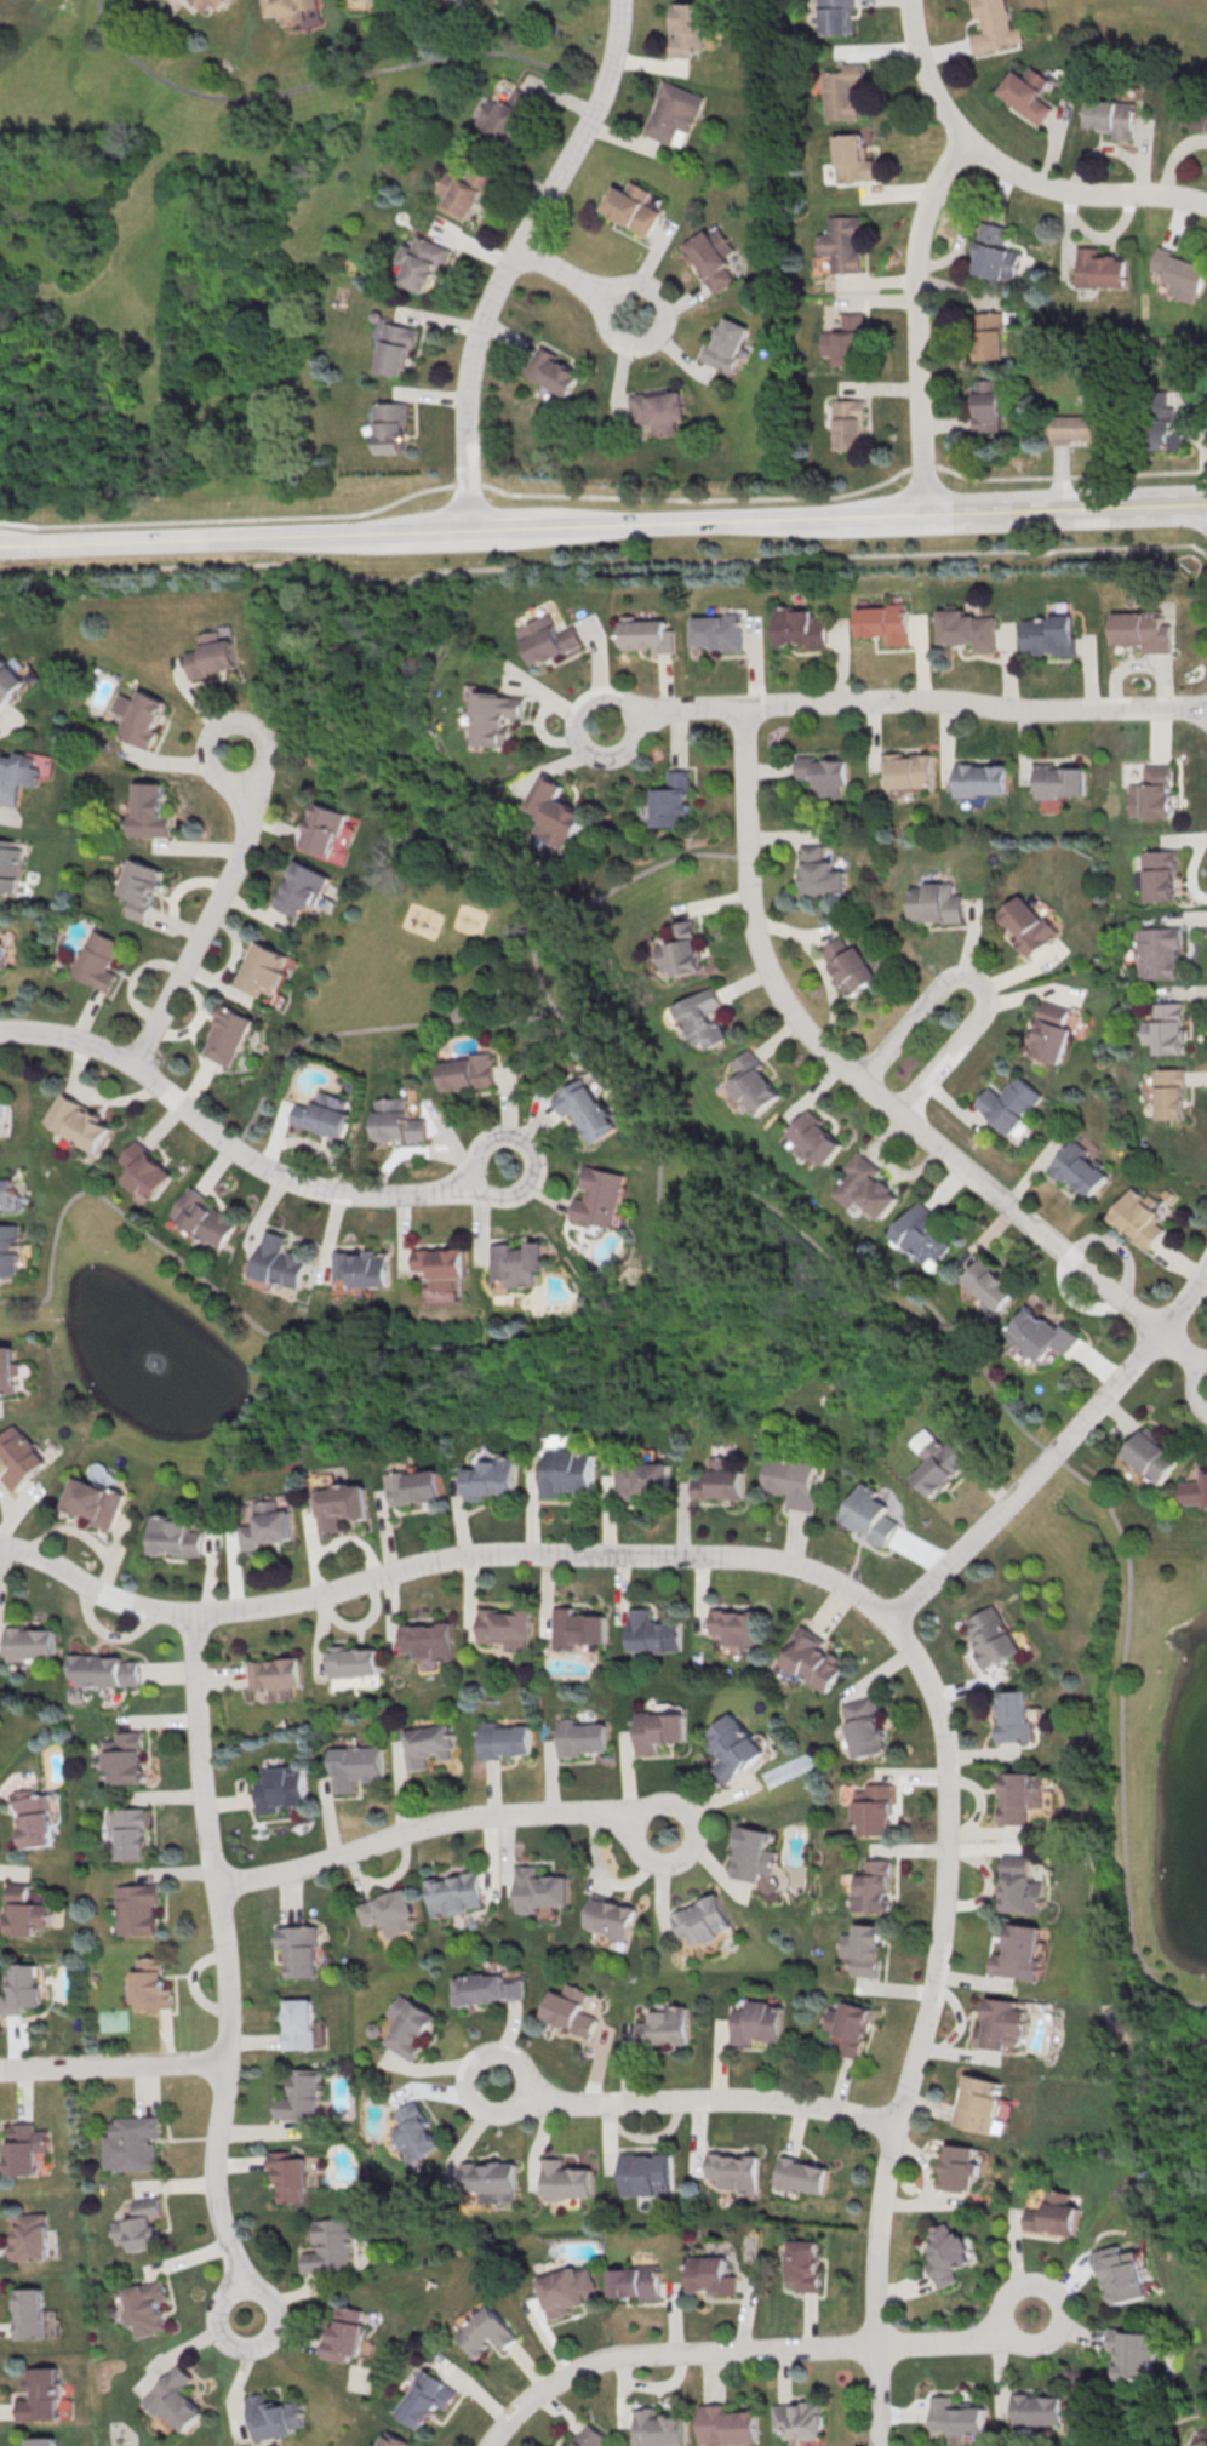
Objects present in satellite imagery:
building: (356, 0)
building: (222, 6)
building: (292, 6)
building: (836, 17)
building: (995, 27)
building: (686, 30)
road: (925, 74)
road: (330, 82)
building: (840, 93)
building: (1029, 93)
building: (673, 114)
building: (1196, 114)
building: (505, 115)
building: (1111, 118)
building: (850, 160)
building: (464, 192)
road: (1080, 192)
building: (629, 210)
building: (842, 242)
building: (995, 252)
road: (510, 256)
building: (713, 257)
building: (424, 262)
building: (1102, 269)
road: (556, 270)
building: (1182, 274)
road: (917, 322)
building: (990, 336)
road: (622, 339)
building: (845, 341)
building: (726, 343)
building: (399, 349)
building: (551, 371)
building: (989, 405)
building: (657, 410)
building: (851, 423)
building: (1161, 423)
building: (394, 428)
building: (1076, 429)
road: (921, 465)
road: (1069, 474)
road: (465, 484)
road: (696, 498)
road: (229, 518)
road: (766, 520)
road: (275, 536)
road: (113, 542)
road: (602, 566)
building: (883, 622)
building: (799, 627)
building: (968, 629)
building: (1140, 629)
building: (717, 631)
building: (645, 633)
building: (1049, 633)
building: (545, 635)
building: (210, 656)
building: (10, 680)
road: (974, 705)
road: (673, 710)
building: (137, 715)
building: (496, 716)
road: (223, 725)
building: (913, 771)
building: (829, 772)
building: (17, 776)
building: (984, 779)
building: (1062, 781)
building: (1152, 795)
building: (673, 801)
building: (557, 810)
building: (147, 811)
building: (324, 828)
building: (10, 864)
road: (658, 865)
building: (818, 874)
building: (1161, 879)
building: (138, 887)
building: (304, 888)
building: (938, 902)
road: (564, 916)
building: (1029, 926)
road: (202, 927)
road: (543, 930)
building: (1, 950)
building: (685, 950)
building: (1159, 950)
building: (96, 960)
building: (851, 965)
building: (262, 968)
road: (979, 979)
building: (704, 1018)
road: (497, 1019)
road: (566, 1024)
building: (1169, 1028)
road: (364, 1029)
building: (1053, 1031)
building: (228, 1033)
road: (853, 1071)
building: (465, 1074)
building: (755, 1080)
building: (1172, 1091)
building: (1012, 1102)
building: (587, 1108)
building: (2, 1116)
building: (321, 1116)
building: (395, 1120)
building: (78, 1121)
building: (822, 1137)
road: (224, 1143)
road: (530, 1153)
building: (143, 1168)
building: (1077, 1168)
building: (869, 1184)
building: (5, 1189)
building: (596, 1194)
road: (681, 1195)
building: (1142, 1216)
building: (202, 1217)
building: (923, 1234)
building: (10, 1250)
building: (280, 1261)
building: (440, 1264)
building: (517, 1265)
building: (361, 1267)
building: (993, 1285)
park: (641, 1290)
road: (934, 1322)
building: (1045, 1333)
road: (1179, 1347)
road: (333, 1348)
fountain: (153, 1355)
building: (7, 1370)
road: (1190, 1384)
road: (1056, 1452)
building: (19, 1455)
building: (1152, 1456)
building: (939, 1464)
building: (566, 1470)
building: (488, 1479)
building: (639, 1481)
building: (793, 1481)
building: (720, 1482)
building: (414, 1485)
building: (1195, 1492)
building: (96, 1503)
building: (342, 1504)
building: (871, 1511)
building: (267, 1525)
building: (175, 1535)
road: (857, 1593)
road: (362, 1621)
building: (738, 1627)
building: (505, 1628)
building: (576, 1628)
building: (652, 1631)
road: (319, 1639)
building: (990, 1639)
building: (427, 1640)
building: (28, 1642)
road: (1122, 1653)
building: (812, 1659)
building: (353, 1661)
building: (102, 1669)
building: (278, 1676)
road: (326, 1707)
building: (1012, 1714)
road: (336, 1721)
building: (863, 1726)
building: (659, 1730)
building: (580, 1737)
building: (503, 1738)
building: (429, 1744)
building: (733, 1747)
building: (125, 1756)
building: (356, 1766)
building: (281, 1788)
road: (350, 1796)
building: (1017, 1796)
road: (327, 1812)
building: (874, 1813)
building: (34, 1817)
road: (437, 1822)
building: (131, 1831)
building: (753, 1853)
building: (873, 1885)
building: (1019, 1886)
building: (539, 1888)
building: (456, 1893)
building: (137, 1907)
building: (25, 1909)
building: (391, 1911)
building: (611, 1916)
building: (703, 1920)
building: (301, 1948)
building: (864, 1949)
building: (1022, 1949)
road: (225, 1965)
building: (150, 1984)
building: (488, 1988)
building: (21, 1989)
building: (571, 2008)
building: (756, 2022)
building: (299, 2024)
building: (670, 2024)
building: (850, 2024)
building: (1005, 2024)
building: (408, 2025)
road: (111, 2064)
building: (301, 2096)
road: (693, 2098)
building: (979, 2103)
building: (416, 2131)
building: (133, 2143)
building: (27, 2149)
building: (734, 2168)
building: (960, 2168)
building: (646, 2172)
building: (288, 2174)
building: (801, 2174)
building: (490, 2179)
building: (566, 2179)
building: (1054, 2213)
building: (138, 2223)
building: (30, 2238)
building: (328, 2246)
building: (949, 2252)
building: (805, 2264)
building: (1122, 2273)
building: (711, 2274)
building: (635, 2281)
building: (565, 2291)
building: (145, 2307)
building: (30, 2314)
building: (485, 2331)
building: (344, 2334)
road: (746, 2349)
building: (1133, 2353)
road: (240, 2377)
building: (41, 2395)
building: (425, 2398)
building: (175, 2399)
building: (1037, 2411)
building: (273, 2416)
building: (959, 2417)
building: (801, 2418)
building: (727, 2424)
building: (659, 2428)
building: (587, 2438)
building: (41, 2441)
building: (393, 2441)
building: (1206, 2445)

